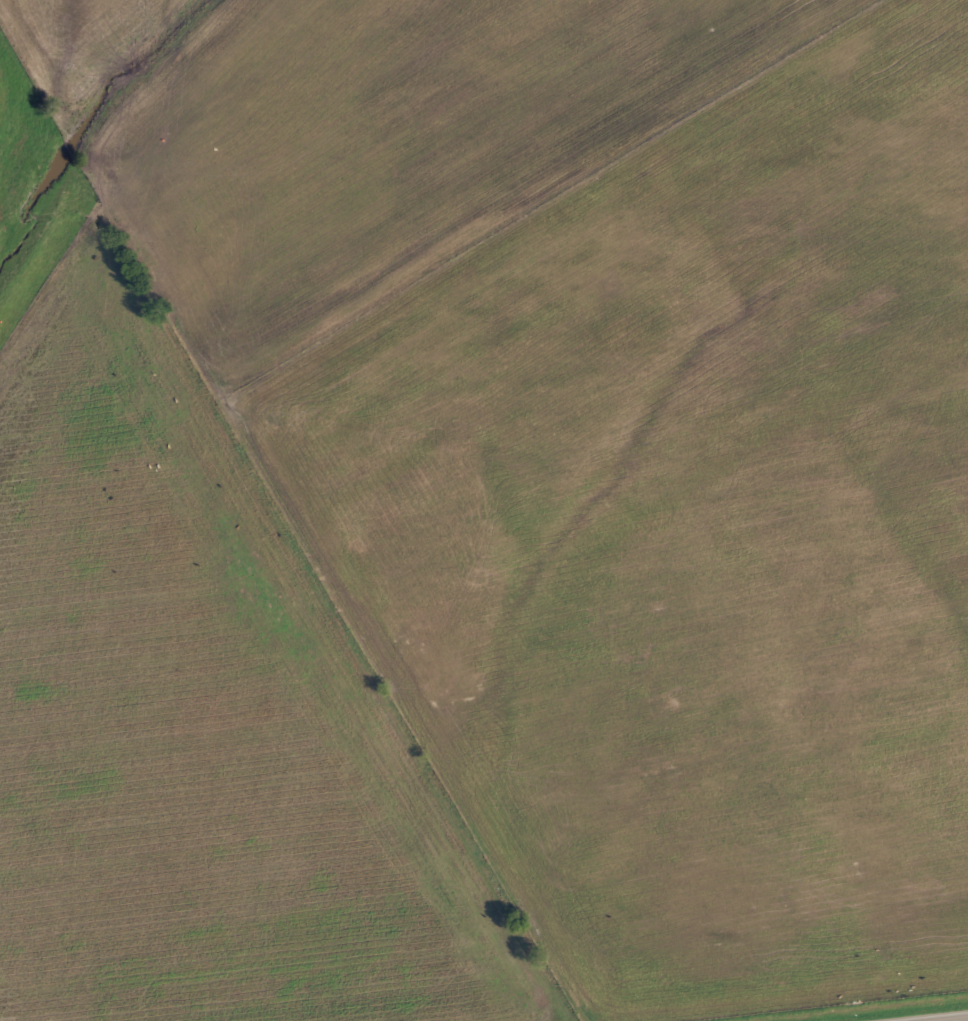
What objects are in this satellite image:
road: (966, 1020)

